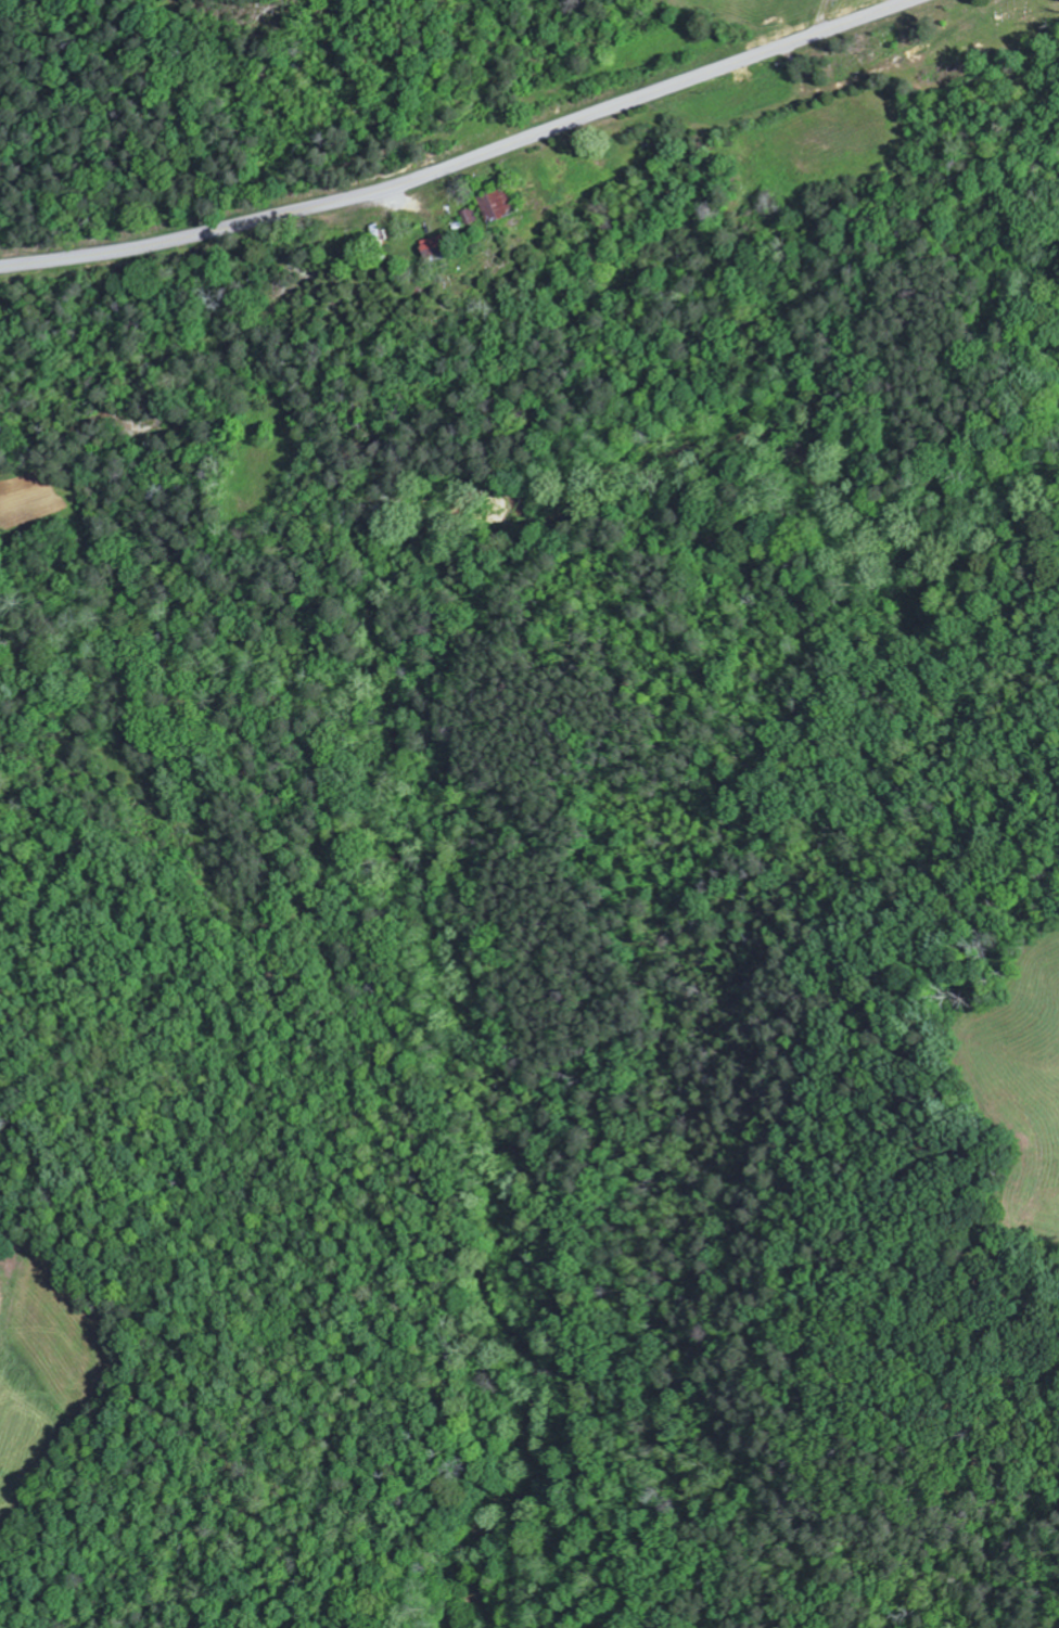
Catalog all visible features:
road: (824, 16)
park: (1000, 28)
road: (465, 164)
building: (501, 203)
building: (442, 248)

